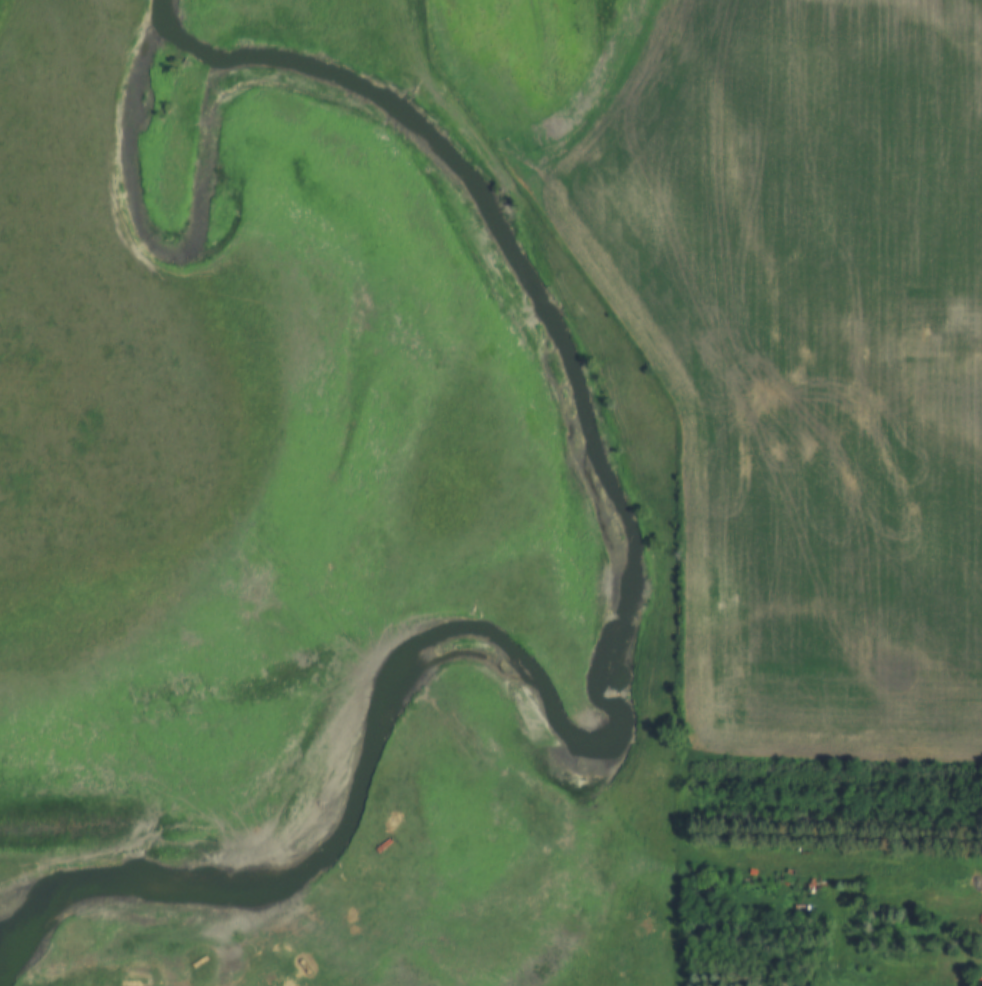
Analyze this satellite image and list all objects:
river: (592, 490)

